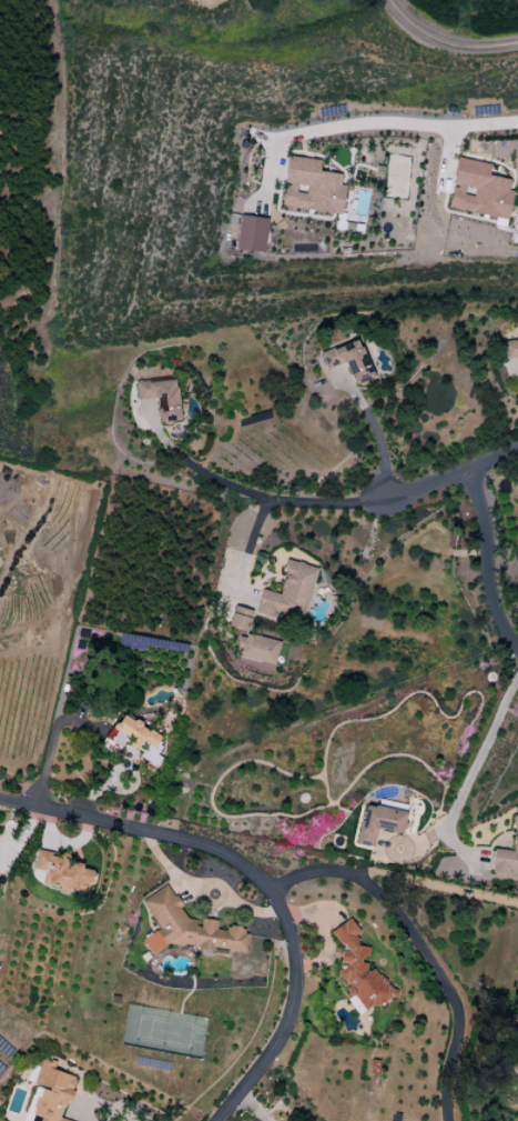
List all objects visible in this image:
road: (445, 42)
road: (396, 122)
building: (311, 187)
building: (479, 190)
building: (251, 233)
building: (509, 349)
building: (348, 361)
building: (161, 398)
road: (376, 433)
road: (191, 463)
road: (450, 474)
traffic signals: (384, 501)
road: (261, 509)
road: (480, 567)
building: (288, 593)
building: (240, 618)
building: (256, 649)
road: (70, 655)
building: (133, 739)
road: (481, 752)
building: (378, 823)
building: (507, 855)
building: (61, 872)
road: (258, 878)
road: (394, 878)
building: (185, 928)
building: (358, 972)
road: (447, 987)
building: (517, 1082)
road: (245, 1102)
road: (110, 1107)

